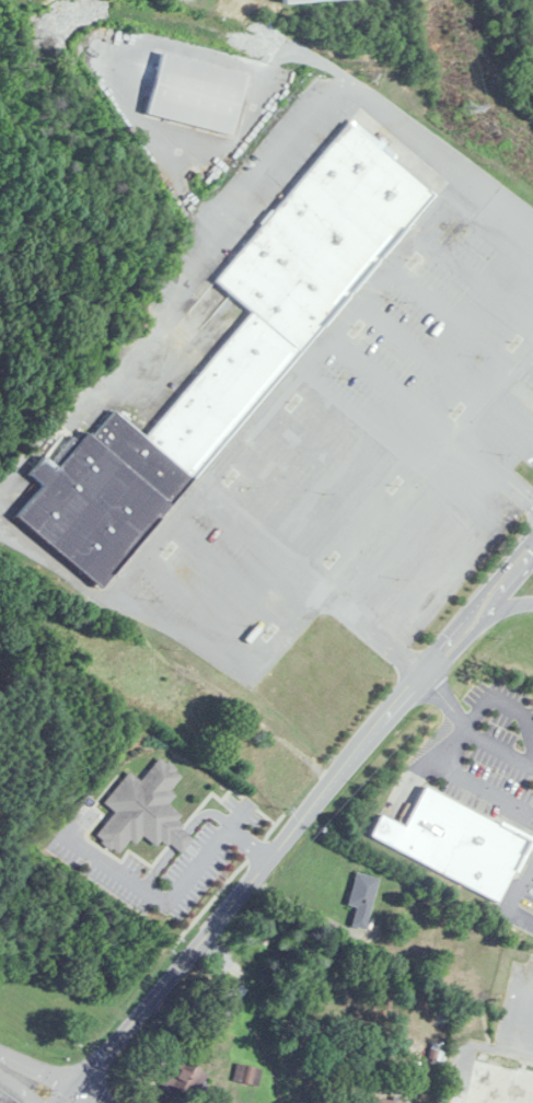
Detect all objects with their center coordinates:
building: (296, 1)
building: (195, 92)
power tower: (467, 105)
road: (173, 130)
road: (219, 229)
road: (476, 276)
road: (452, 315)
road: (424, 348)
road: (531, 350)
building: (233, 356)
road: (393, 385)
road: (359, 423)
road: (225, 458)
road: (329, 461)
road: (428, 466)
road: (494, 467)
road: (298, 497)
road: (264, 537)
road: (48, 558)
road: (235, 572)
road: (209, 603)
road: (374, 631)
road: (517, 707)
road: (457, 721)
road: (471, 727)
road: (480, 781)
building: (144, 810)
road: (298, 823)
building: (440, 833)
road: (517, 866)
road: (173, 894)
building: (361, 898)
road: (517, 906)
building: (227, 999)
building: (246, 1075)
building: (183, 1077)
road: (28, 1082)
building: (499, 1084)
road: (89, 1098)
building: (390, 1101)

